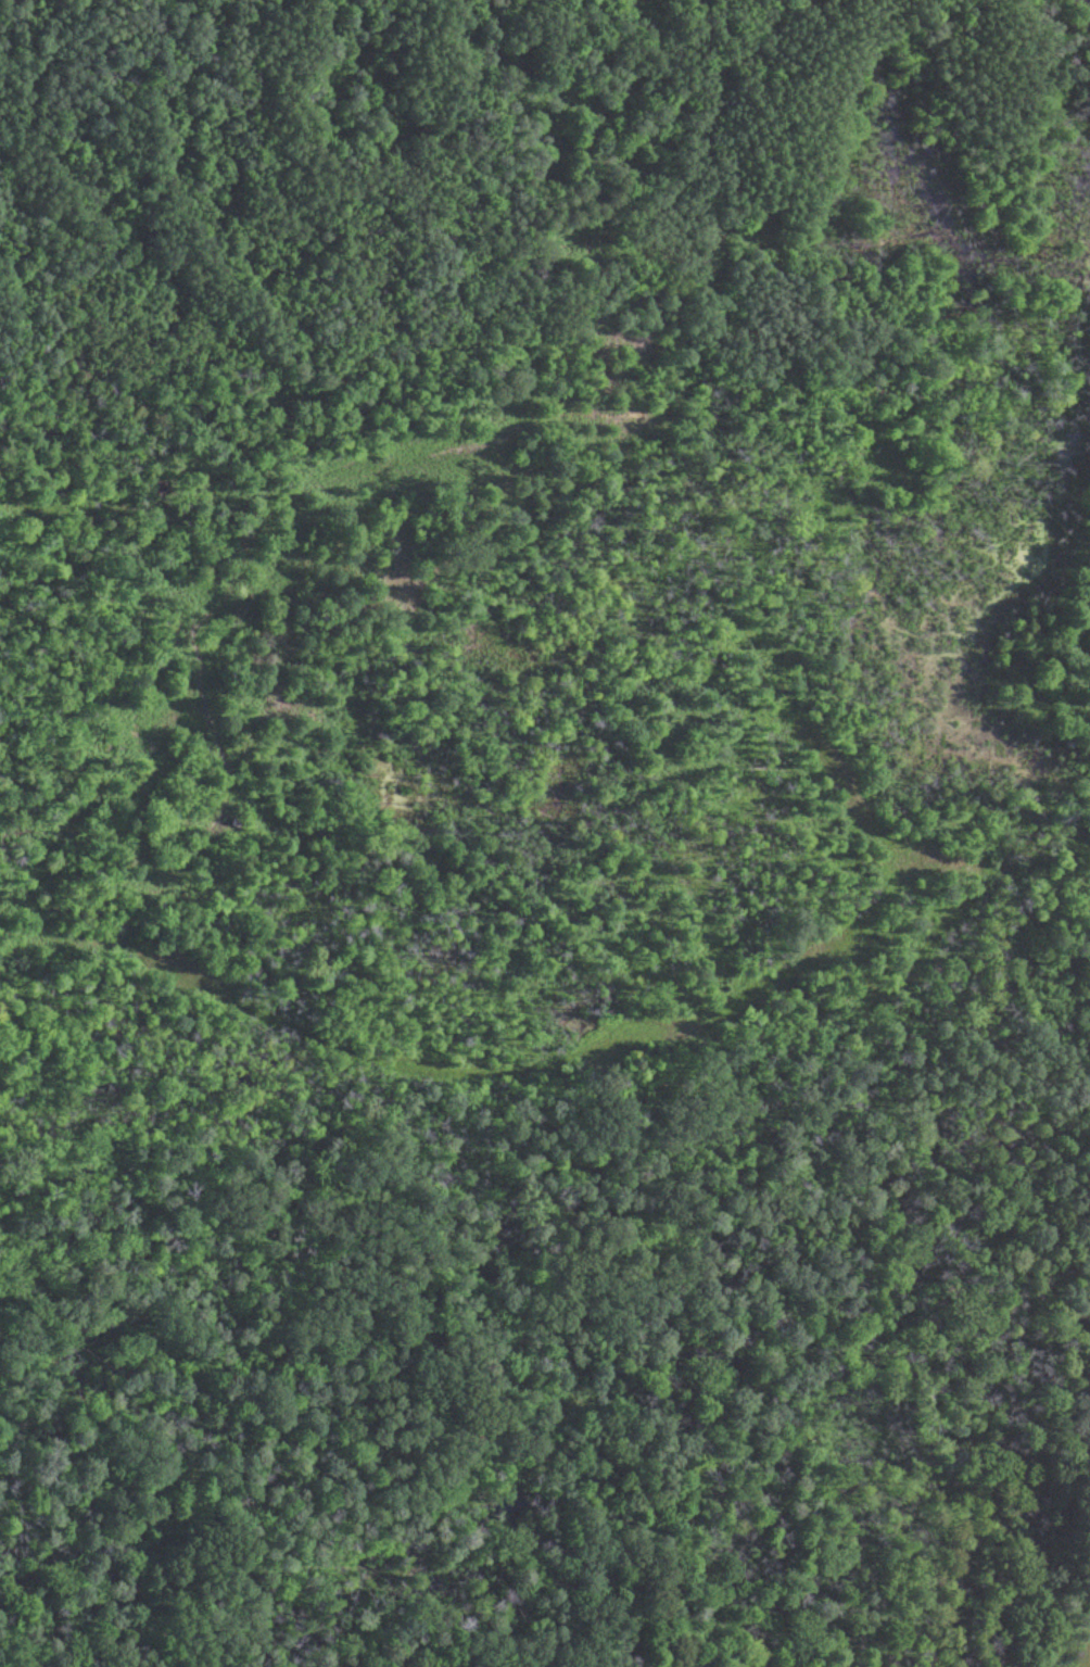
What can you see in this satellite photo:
road: (768, 54)
road: (817, 279)

